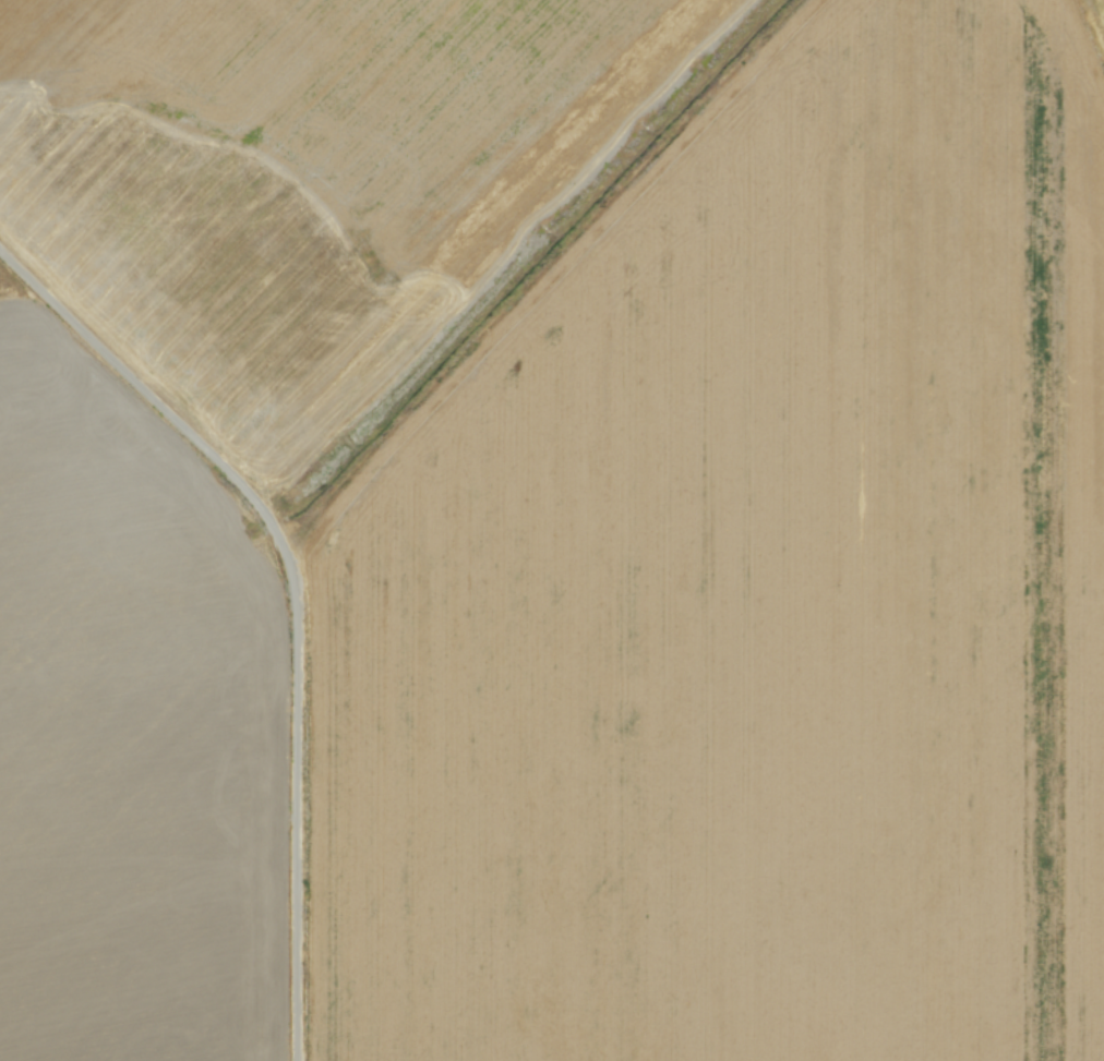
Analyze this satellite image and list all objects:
road: (285, 596)

